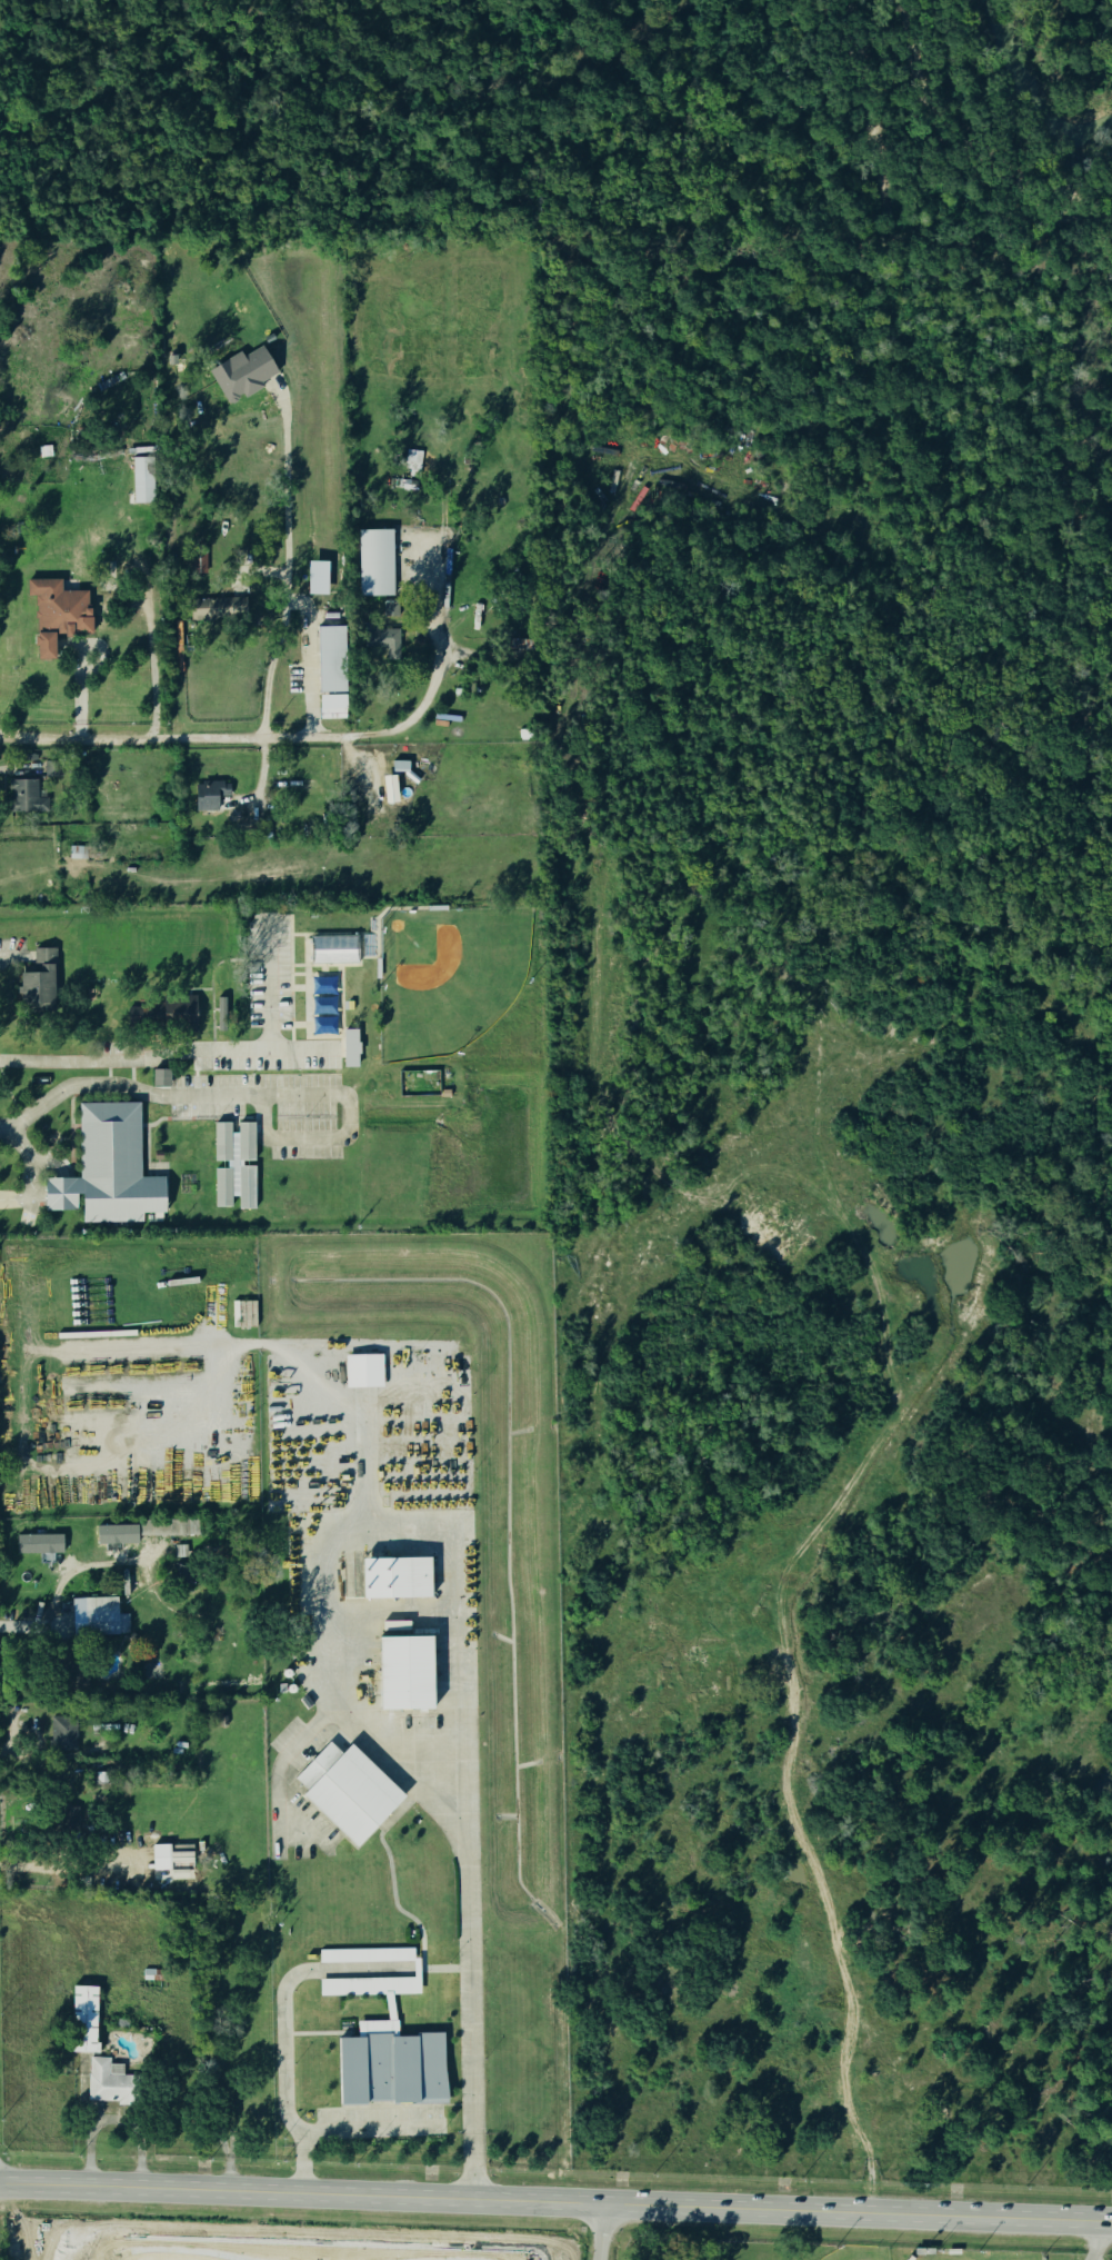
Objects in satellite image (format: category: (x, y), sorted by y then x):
river: (1033, 92)
park: (567, 142)
building: (241, 376)
building: (143, 480)
building: (375, 562)
building: (318, 577)
road: (284, 581)
building: (217, 609)
building: (56, 616)
building: (382, 645)
building: (332, 659)
road: (157, 665)
road: (432, 680)
road: (309, 699)
road: (178, 738)
building: (399, 768)
building: (389, 790)
building: (209, 796)
building: (26, 798)
road: (34, 874)
building: (333, 952)
park: (448, 976)
building: (36, 986)
building: (350, 1006)
building: (221, 1014)
building: (160, 1015)
building: (351, 1047)
road: (196, 1054)
building: (161, 1077)
road: (132, 1085)
building: (445, 1094)
road: (355, 1135)
building: (234, 1164)
building: (109, 1168)
building: (364, 1370)
building: (168, 1529)
building: (118, 1534)
building: (39, 1544)
building: (397, 1577)
road: (34, 1627)
road: (321, 1664)
building: (405, 1673)
building: (282, 1689)
building: (308, 1701)
building: (64, 1733)
road: (11, 1746)
building: (353, 1795)
building: (169, 1858)
road: (78, 1864)
building: (368, 1955)
building: (158, 1974)
building: (367, 1987)
building: (82, 2021)
road: (284, 2031)
building: (113, 2053)
building: (389, 2067)
building: (107, 2083)
road: (118, 2123)
road: (372, 2129)
road: (223, 2157)
road: (555, 2201)
road: (602, 2231)
road: (1100, 2241)
park: (858, 2252)
park: (984, 2254)

